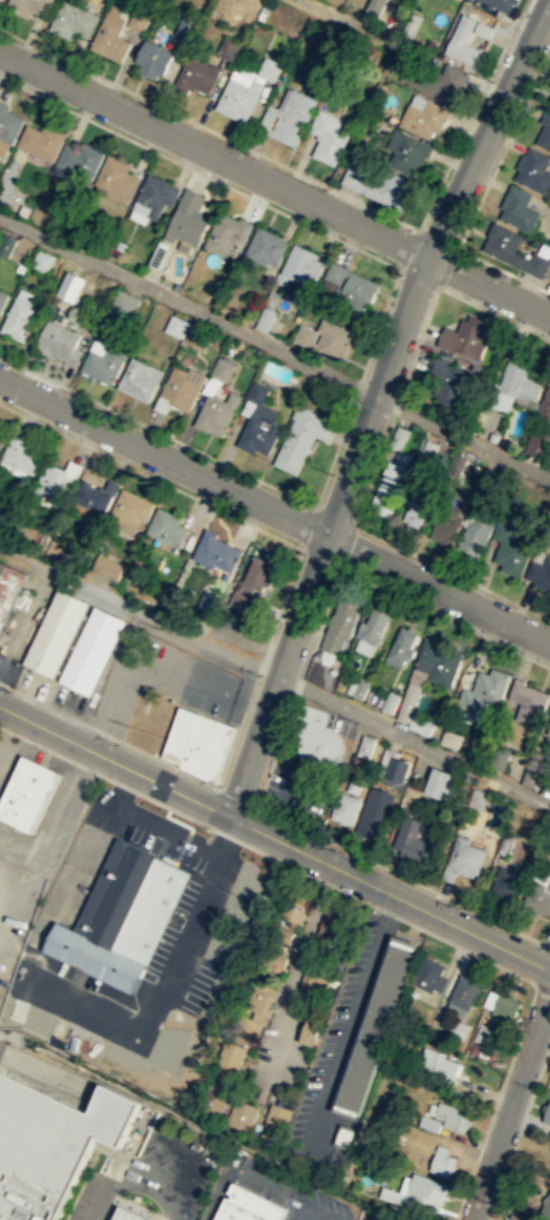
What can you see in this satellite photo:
building: (0, 0)
building: (500, 4)
building: (374, 5)
building: (29, 6)
road: (337, 17)
building: (74, 19)
building: (138, 21)
building: (185, 28)
building: (482, 29)
building: (111, 36)
building: (461, 40)
building: (227, 48)
building: (154, 58)
building: (267, 69)
street lamp: (79, 70)
building: (195, 76)
building: (436, 80)
street lamp: (490, 82)
building: (238, 98)
building: (549, 103)
building: (293, 117)
building: (424, 117)
building: (266, 119)
building: (8, 122)
building: (544, 131)
building: (328, 137)
building: (42, 139)
road: (502, 148)
street lamp: (248, 150)
building: (405, 151)
building: (80, 157)
building: (534, 169)
road: (198, 172)
building: (117, 175)
building: (353, 175)
road: (323, 183)
road: (274, 185)
building: (389, 190)
building: (156, 195)
road: (459, 196)
building: (517, 208)
building: (190, 217)
street lamp: (407, 229)
building: (227, 231)
road: (435, 237)
building: (6, 243)
building: (265, 244)
road: (407, 248)
building: (513, 249)
building: (42, 259)
road: (446, 266)
road: (503, 269)
building: (299, 271)
building: (334, 272)
road: (417, 277)
building: (70, 284)
building: (357, 290)
building: (2, 298)
road: (179, 300)
building: (123, 306)
building: (18, 317)
building: (264, 317)
building: (176, 326)
road: (377, 327)
building: (198, 335)
building: (303, 335)
building: (464, 336)
building: (60, 341)
building: (331, 341)
road: (201, 357)
building: (104, 363)
building: (222, 368)
building: (138, 379)
building: (450, 379)
building: (517, 381)
building: (181, 387)
road: (367, 390)
building: (545, 401)
street lamp: (355, 402)
road: (395, 404)
building: (218, 412)
building: (257, 422)
road: (156, 430)
building: (2, 437)
building: (301, 437)
building: (399, 437)
road: (463, 437)
building: (537, 444)
road: (336, 445)
building: (427, 450)
building: (22, 454)
road: (164, 459)
building: (456, 464)
road: (352, 466)
building: (488, 479)
building: (54, 480)
building: (387, 489)
building: (93, 497)
road: (202, 500)
building: (132, 507)
building: (418, 507)
road: (334, 514)
road: (307, 526)
building: (445, 526)
building: (167, 528)
building: (474, 536)
road: (346, 543)
street lamp: (297, 548)
building: (509, 548)
building: (215, 551)
road: (319, 556)
building: (108, 565)
building: (539, 572)
building: (255, 574)
building: (8, 588)
road: (439, 591)
building: (241, 599)
building: (204, 602)
road: (444, 616)
building: (338, 626)
building: (372, 626)
building: (54, 632)
building: (400, 645)
building: (91, 649)
building: (436, 662)
street lamp: (259, 673)
parking lot: (162, 677)
road: (276, 677)
road: (280, 677)
building: (359, 687)
building: (484, 689)
street lamp: (7, 690)
road: (249, 691)
building: (407, 701)
building: (527, 701)
road: (179, 702)
building: (388, 702)
road: (60, 710)
building: (548, 727)
road: (16, 732)
building: (318, 737)
building: (450, 737)
building: (197, 742)
street lamp: (116, 743)
building: (365, 744)
road: (51, 750)
road: (112, 762)
road: (85, 767)
building: (395, 767)
building: (534, 769)
road: (106, 777)
road: (197, 777)
building: (353, 782)
building: (438, 782)
road: (125, 785)
street lamp: (220, 785)
building: (33, 793)
road: (236, 795)
building: (476, 796)
road: (115, 798)
road: (256, 799)
building: (345, 806)
road: (175, 810)
building: (372, 813)
road: (176, 819)
road: (167, 828)
road: (227, 835)
road: (228, 838)
building: (411, 839)
building: (505, 844)
road: (181, 845)
street lamp: (341, 851)
building: (464, 857)
road: (307, 874)
building: (504, 881)
building: (549, 885)
road: (388, 892)
building: (537, 897)
street lamp: (457, 905)
building: (294, 907)
road: (386, 911)
building: (126, 915)
building: (332, 923)
road: (511, 928)
building: (280, 933)
road: (469, 951)
building: (273, 955)
road: (293, 968)
building: (429, 977)
building: (312, 982)
road: (542, 992)
building: (462, 996)
building: (259, 1001)
building: (499, 1007)
building: (374, 1028)
building: (309, 1032)
building: (226, 1059)
building: (440, 1069)
road: (46, 1071)
building: (549, 1071)
building: (213, 1098)
road: (494, 1104)
road: (509, 1107)
building: (241, 1115)
building: (545, 1115)
building: (451, 1116)
building: (274, 1122)
road: (519, 1130)
building: (345, 1135)
building: (54, 1144)
building: (440, 1161)
road: (131, 1172)
building: (417, 1193)
building: (245, 1205)
building: (545, 1207)
road: (317, 1210)
building: (133, 1214)
gas station: (133, 1214)
building: (510, 1218)

